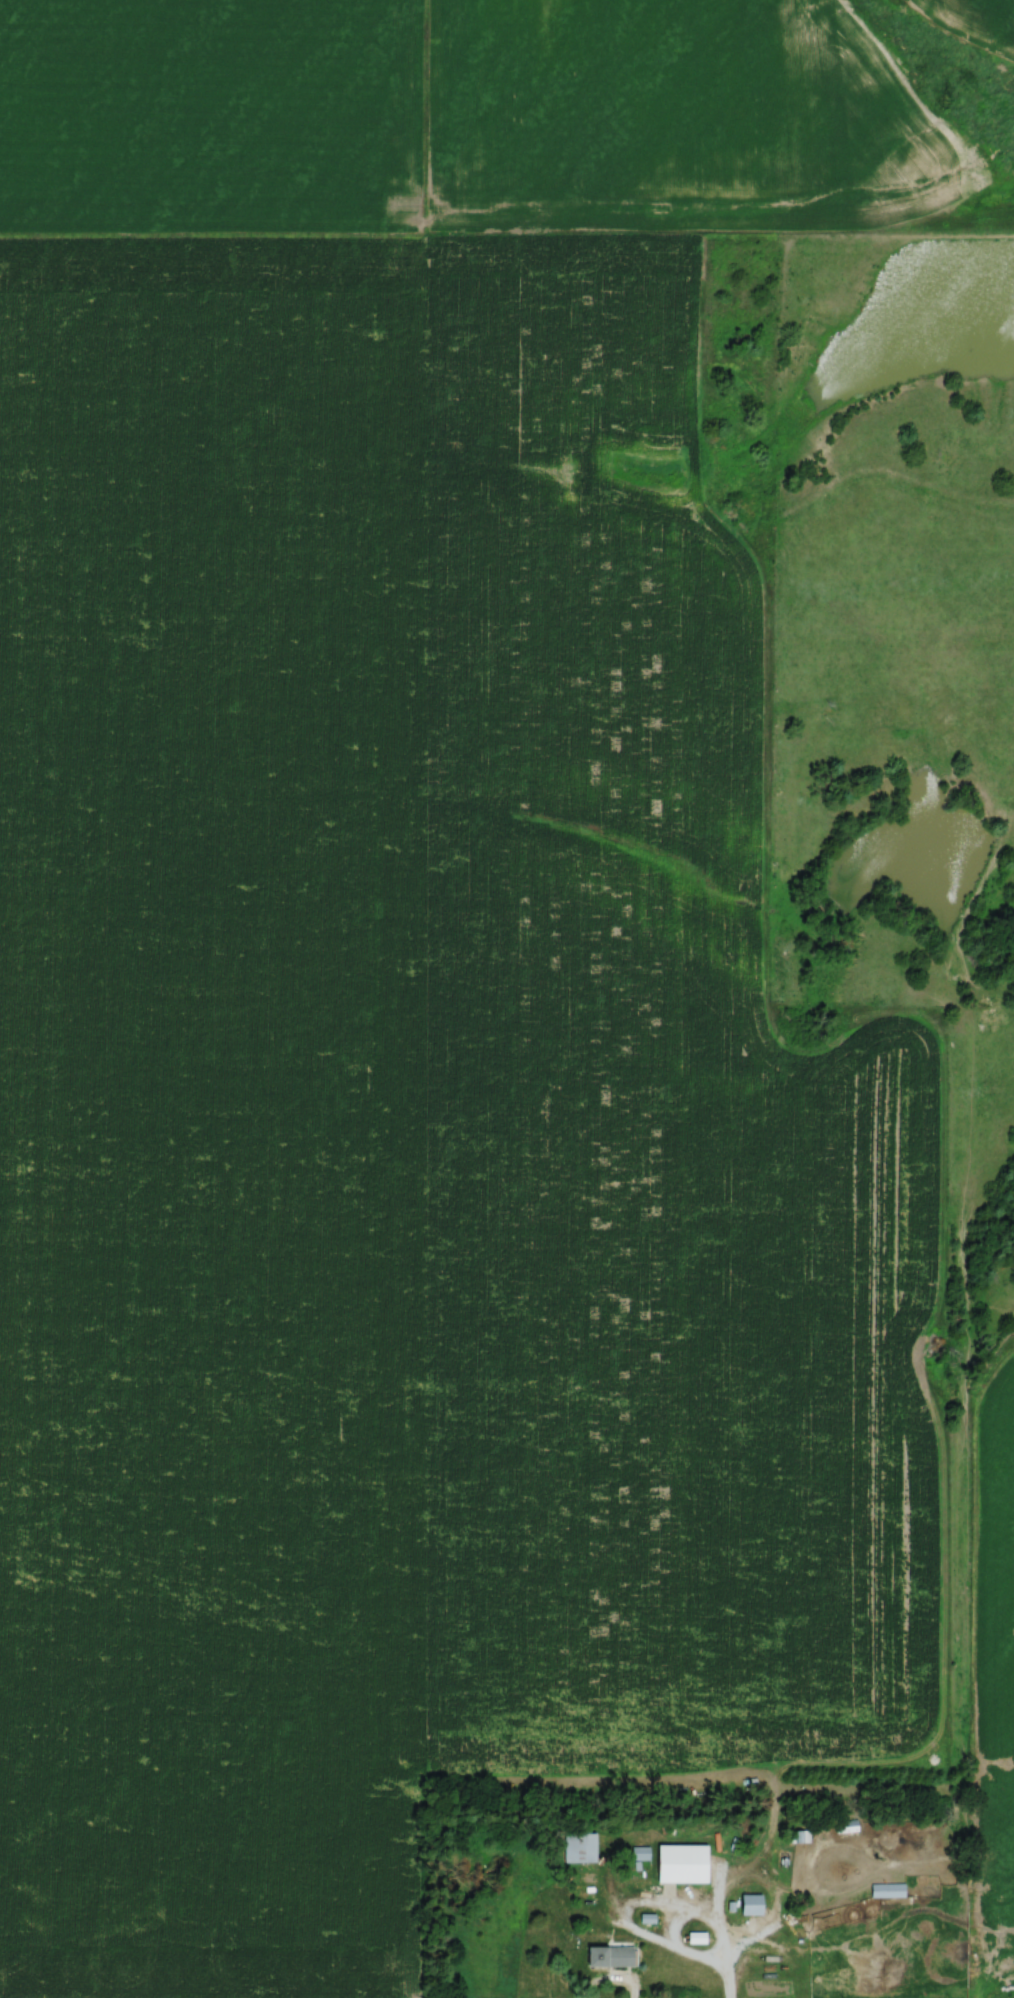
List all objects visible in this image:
building: (844, 1826)
building: (576, 1846)
building: (638, 1851)
building: (885, 1889)
building: (747, 1903)
road: (671, 1908)
building: (605, 1954)
road: (727, 1980)

